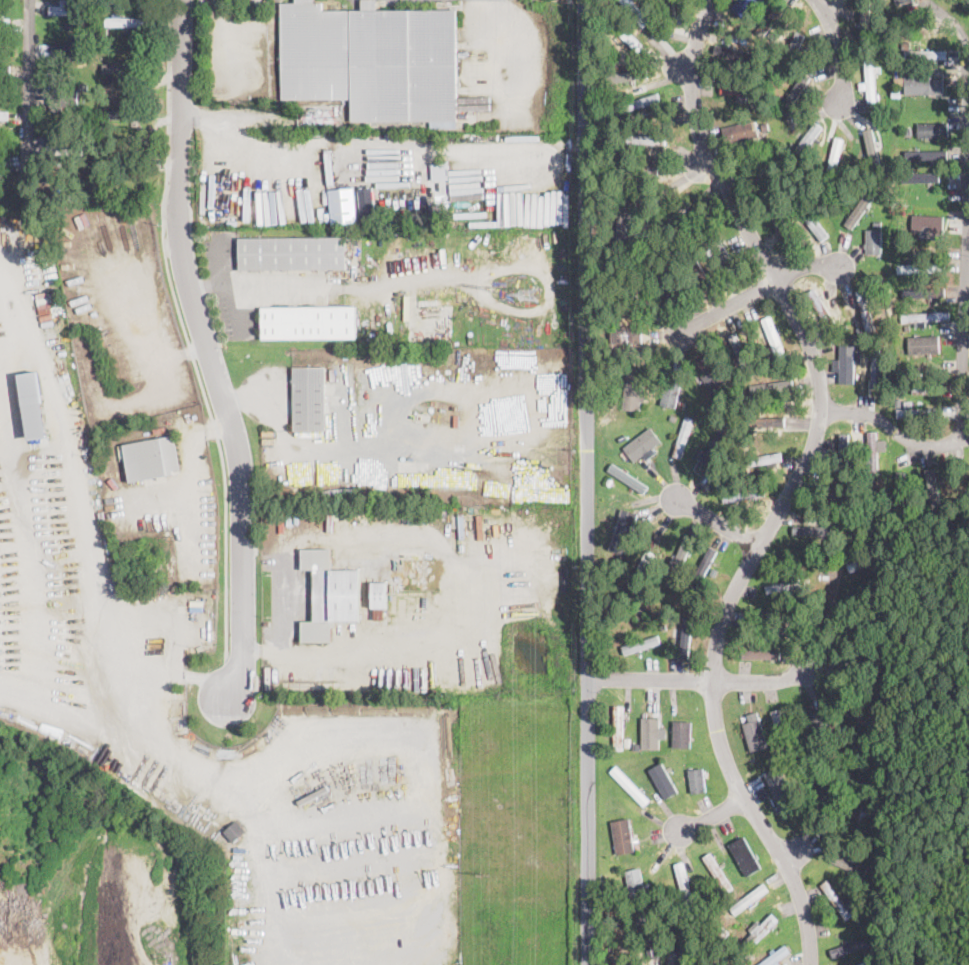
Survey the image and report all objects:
building: (902, 1)
building: (742, 6)
building: (69, 10)
road: (215, 10)
building: (635, 12)
building: (670, 12)
building: (773, 19)
building: (864, 20)
building: (127, 22)
road: (948, 28)
building: (104, 30)
building: (84, 35)
building: (625, 35)
building: (752, 45)
building: (795, 46)
road: (838, 48)
power tower: (480, 53)
road: (498, 54)
building: (741, 54)
building: (926, 54)
building: (69, 55)
building: (372, 60)
building: (115, 67)
building: (5, 70)
road: (248, 71)
building: (629, 75)
building: (869, 77)
building: (924, 84)
road: (29, 86)
building: (742, 92)
building: (896, 92)
building: (62, 93)
building: (797, 93)
building: (636, 103)
building: (762, 103)
building: (877, 109)
building: (4, 113)
building: (129, 115)
building: (312, 116)
building: (765, 128)
building: (932, 129)
building: (907, 130)
building: (741, 132)
building: (89, 135)
building: (106, 136)
building: (647, 138)
building: (870, 141)
building: (809, 142)
building: (64, 149)
building: (926, 153)
road: (226, 157)
building: (834, 157)
building: (131, 160)
building: (4, 161)
building: (639, 168)
building: (440, 171)
building: (762, 171)
building: (923, 177)
building: (88, 196)
building: (62, 197)
building: (366, 201)
building: (904, 201)
building: (343, 204)
building: (861, 206)
building: (624, 217)
building: (672, 217)
building: (814, 221)
building: (878, 224)
building: (930, 224)
building: (781, 231)
building: (207, 235)
building: (873, 242)
building: (291, 253)
building: (614, 257)
road: (965, 259)
building: (735, 266)
building: (919, 268)
building: (698, 271)
building: (667, 281)
road: (257, 283)
road: (747, 291)
building: (924, 291)
power tower: (528, 293)
building: (632, 298)
building: (822, 307)
building: (865, 309)
building: (927, 317)
building: (308, 322)
building: (907, 326)
building: (843, 327)
road: (184, 329)
building: (859, 330)
building: (628, 334)
building: (774, 338)
building: (861, 340)
building: (923, 343)
building: (739, 351)
road: (208, 352)
building: (922, 362)
building: (848, 364)
building: (876, 367)
building: (616, 371)
building: (712, 378)
building: (905, 380)
building: (773, 386)
building: (926, 388)
building: (672, 390)
building: (634, 392)
building: (903, 392)
building: (368, 397)
building: (309, 398)
building: (356, 399)
building: (898, 402)
building: (682, 404)
building: (33, 406)
road: (837, 410)
building: (918, 413)
building: (672, 418)
building: (764, 421)
building: (622, 436)
building: (682, 437)
building: (642, 443)
road: (914, 443)
building: (844, 449)
building: (748, 452)
building: (873, 452)
building: (709, 453)
building: (151, 458)
building: (764, 459)
power tower: (481, 473)
building: (862, 473)
building: (123, 476)
building: (627, 477)
building: (609, 480)
road: (587, 482)
road: (793, 484)
building: (741, 485)
building: (932, 487)
building: (743, 494)
building: (901, 494)
building: (838, 495)
building: (417, 518)
road: (711, 519)
building: (624, 523)
building: (813, 529)
building: (681, 555)
building: (863, 561)
building: (703, 568)
building: (639, 572)
building: (670, 584)
building: (790, 584)
building: (379, 595)
building: (330, 596)
building: (863, 598)
building: (639, 614)
building: (773, 618)
road: (282, 621)
building: (663, 627)
building: (797, 629)
building: (885, 630)
building: (857, 631)
building: (686, 636)
building: (635, 646)
road: (326, 651)
building: (761, 653)
building: (861, 664)
road: (706, 678)
building: (877, 702)
building: (857, 713)
building: (819, 722)
building: (618, 727)
building: (780, 730)
building: (754, 731)
building: (650, 732)
building: (681, 733)
building: (626, 743)
building: (802, 744)
building: (637, 746)
building: (761, 753)
building: (772, 756)
building: (790, 761)
building: (838, 761)
building: (663, 779)
building: (697, 781)
building: (630, 786)
building: (820, 786)
building: (780, 793)
building: (874, 798)
building: (860, 811)
road: (709, 813)
landfill: (509, 828)
building: (235, 832)
building: (622, 834)
building: (741, 851)
park: (930, 851)
building: (857, 858)
building: (850, 866)
landfill: (97, 868)
building: (718, 872)
power tower: (483, 873)
building: (635, 886)
building: (684, 886)
building: (698, 895)
building: (749, 898)
building: (836, 900)
building: (624, 910)
building: (673, 924)
building: (761, 929)
road: (17, 933)
building: (651, 936)
building: (684, 943)
building: (852, 945)
building: (609, 947)
building: (711, 948)
building: (776, 956)
building: (618, 962)
building: (865, 962)

